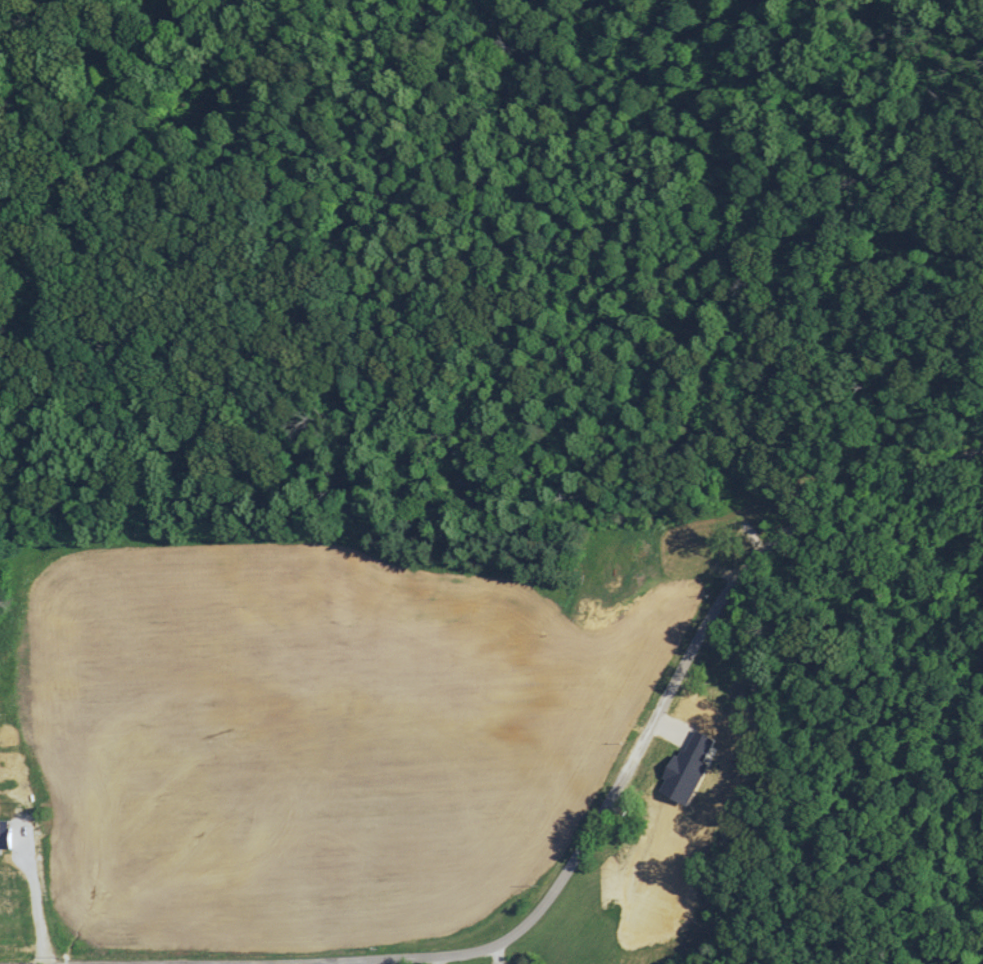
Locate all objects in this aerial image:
road: (467, 30)
road: (634, 751)

